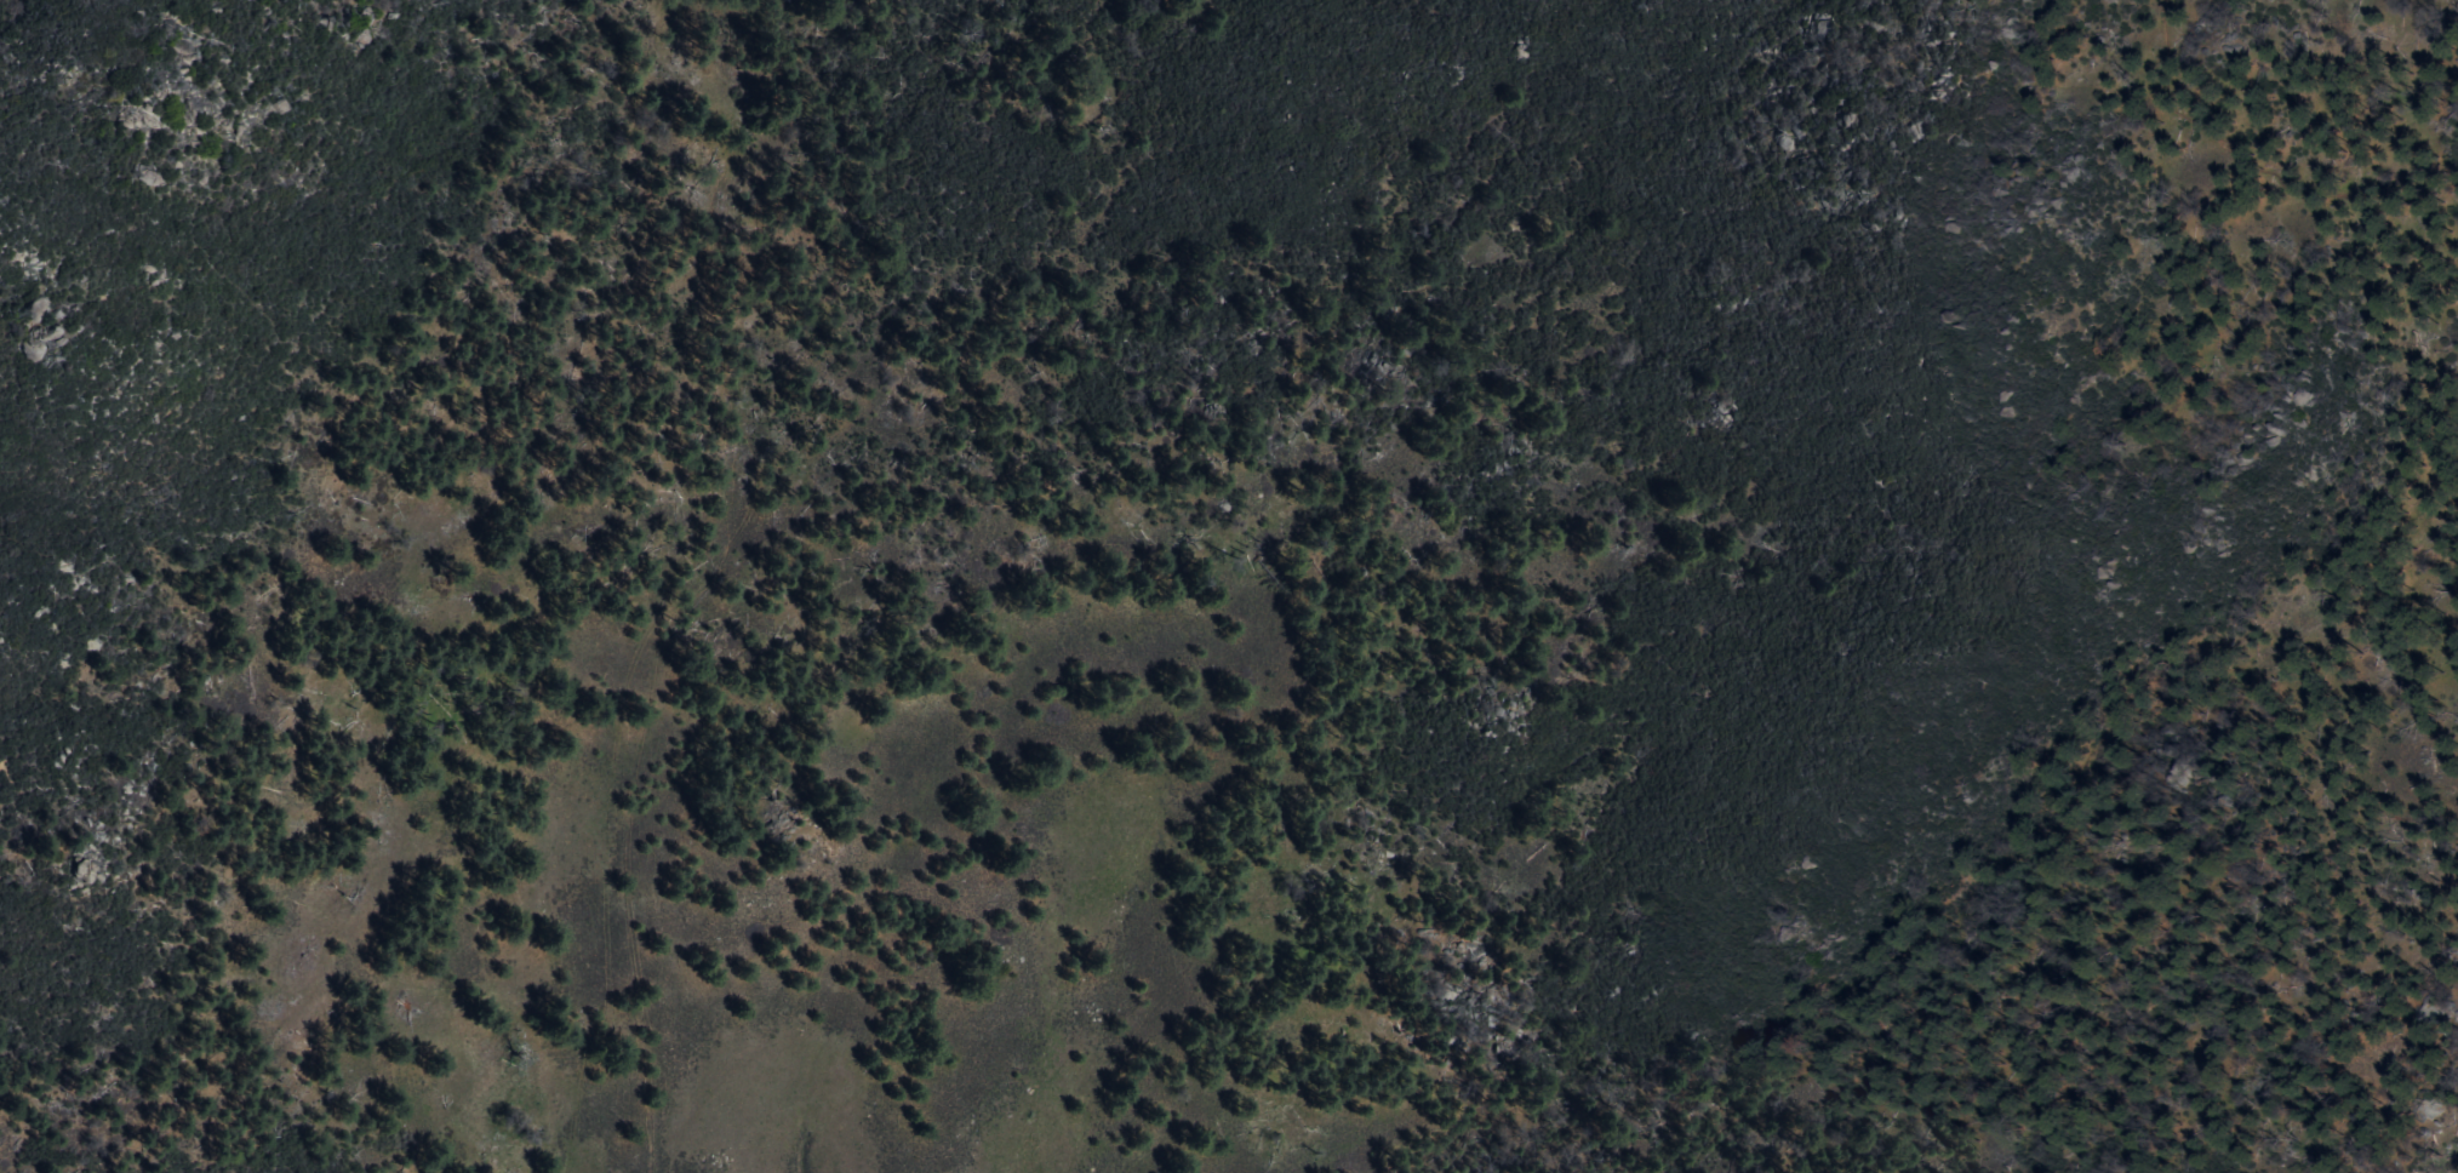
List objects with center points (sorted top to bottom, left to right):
road: (2271, 173)

